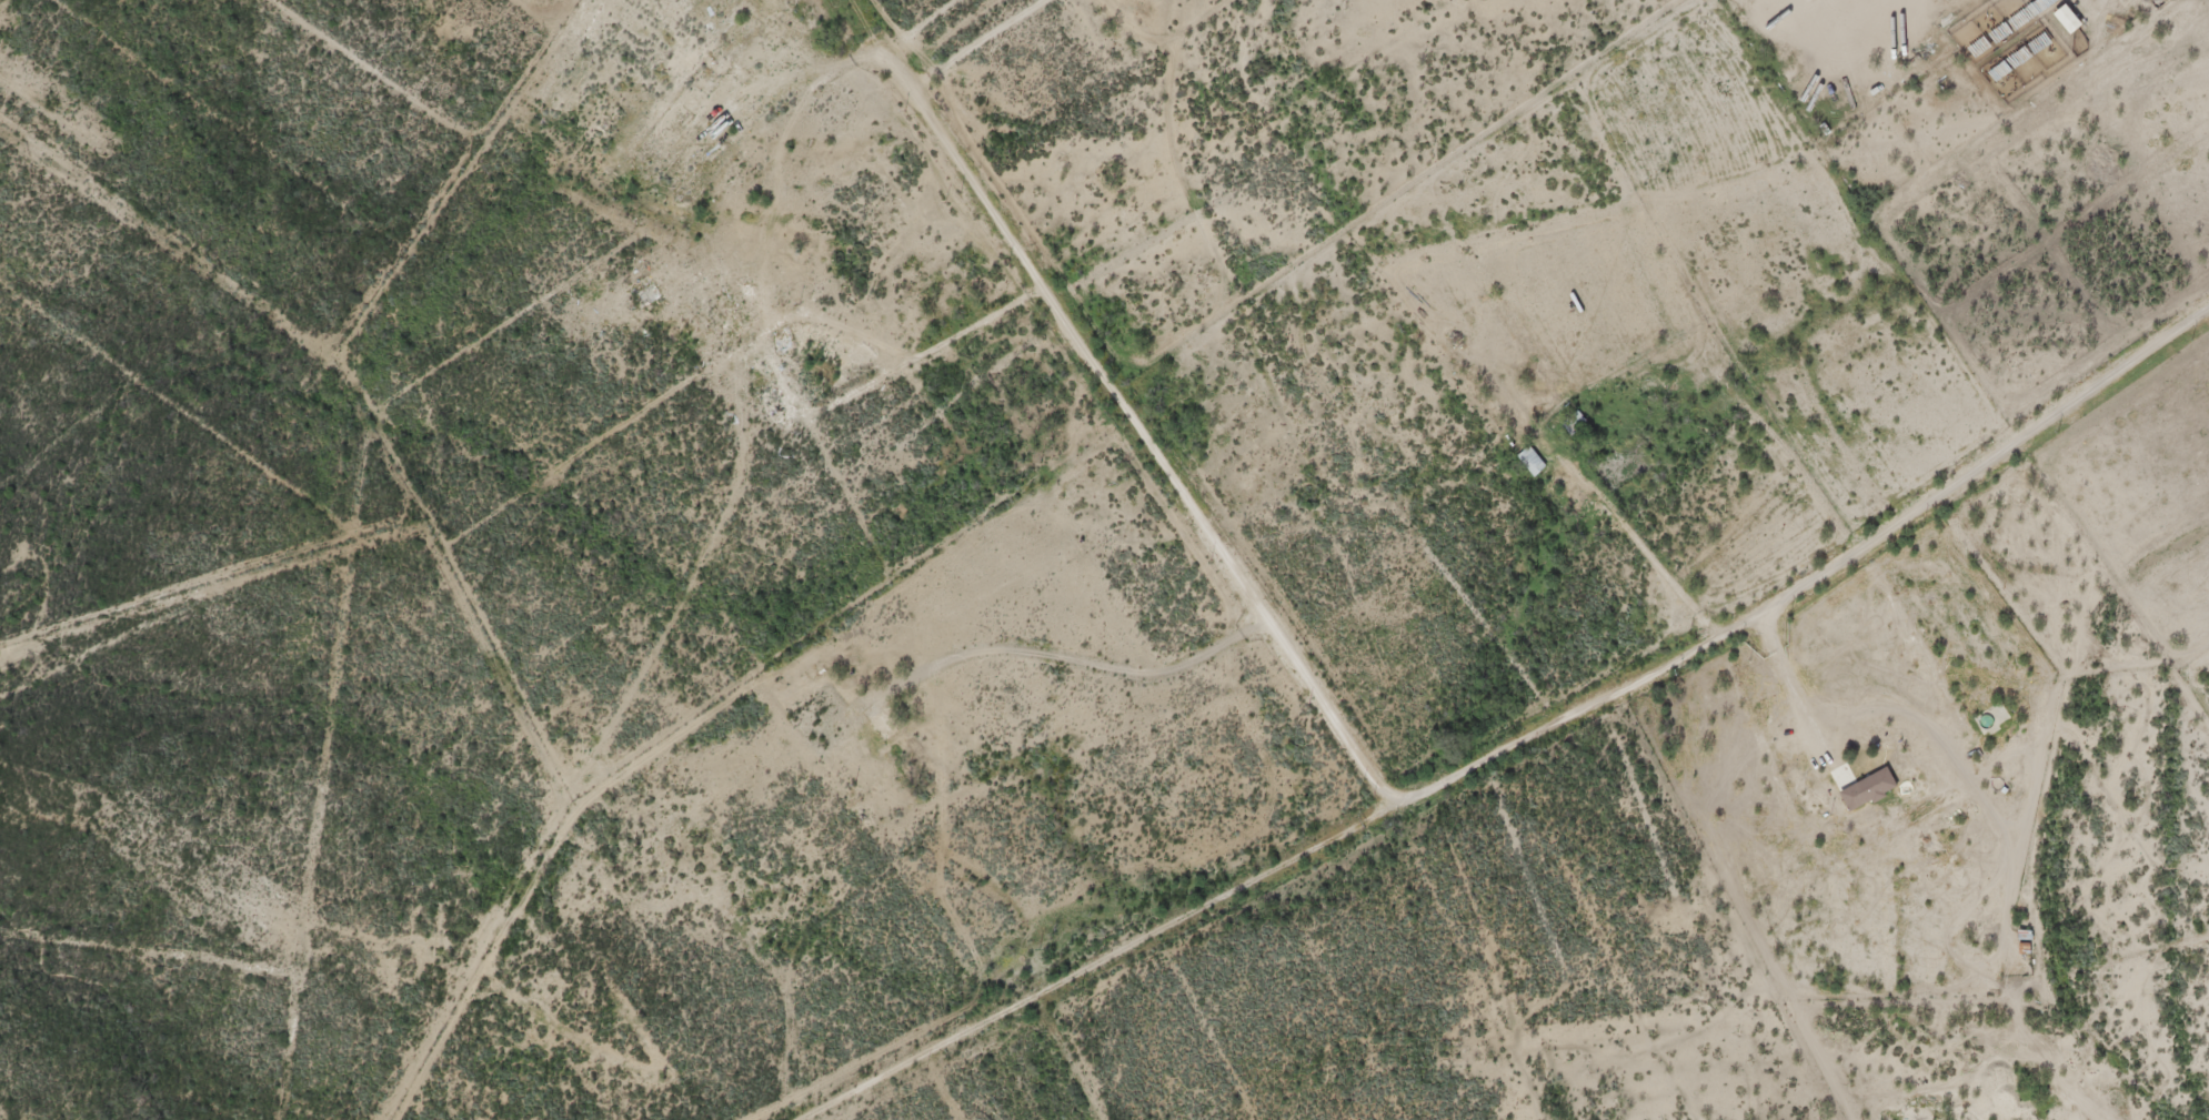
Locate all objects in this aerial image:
road: (1157, 26)
building: (730, 315)
road: (1332, 554)
building: (1991, 715)
building: (1867, 785)
building: (2025, 937)

